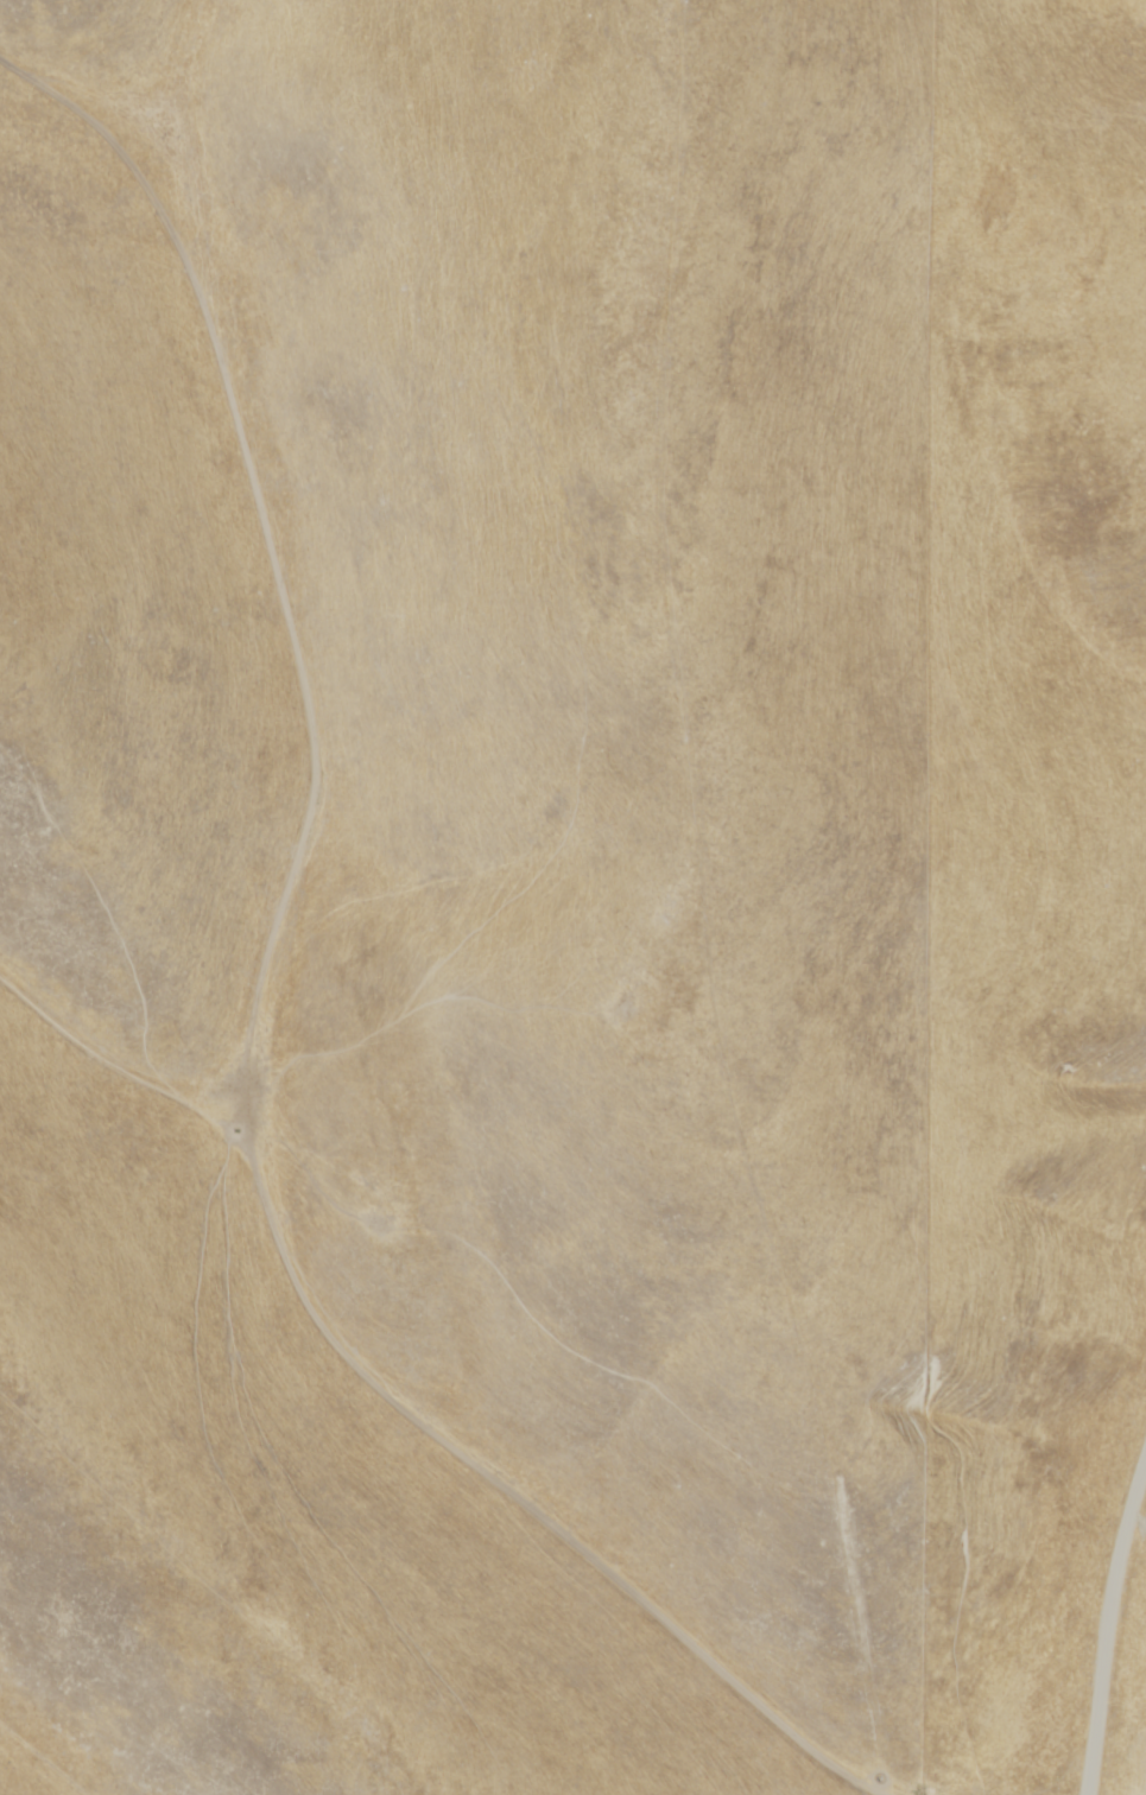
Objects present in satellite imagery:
road: (1104, 1656)

